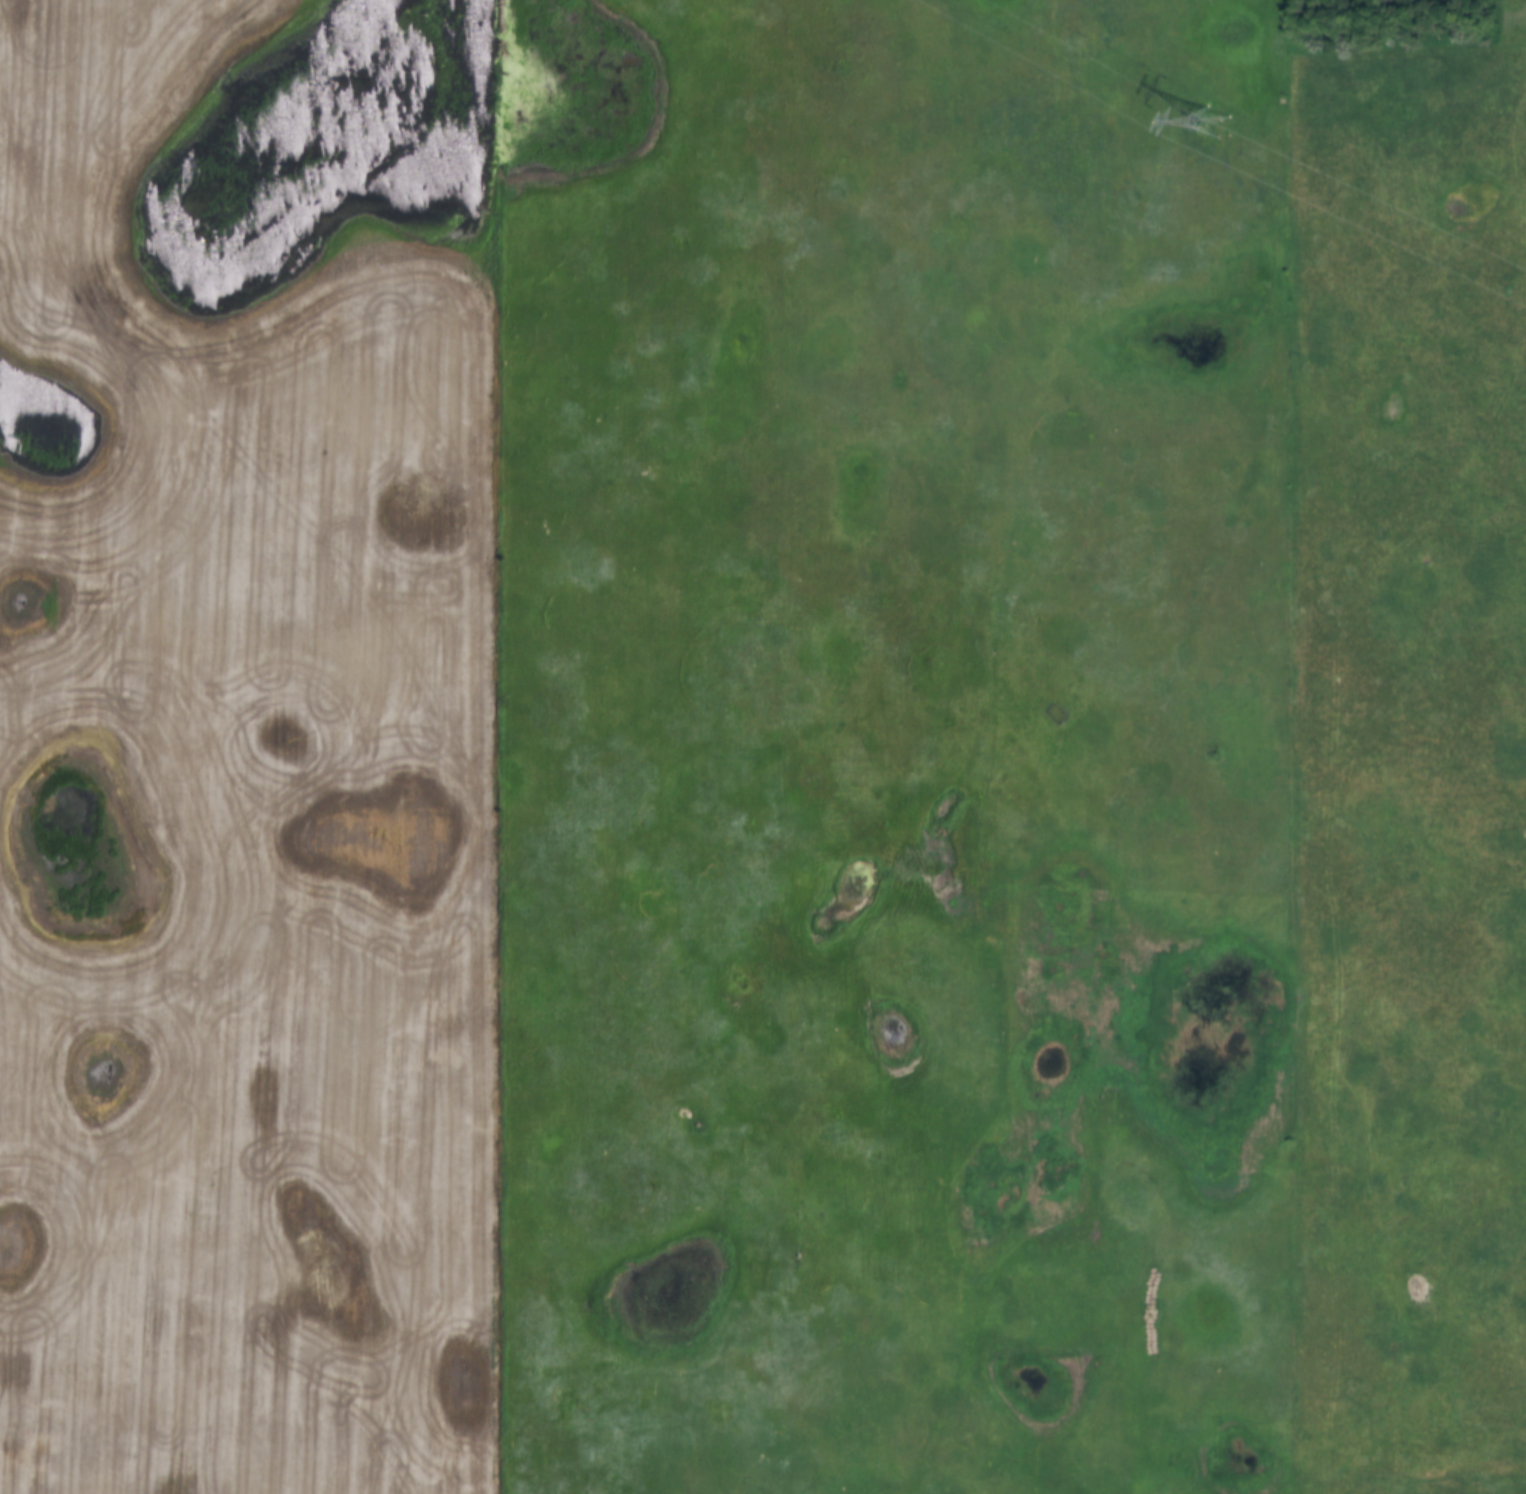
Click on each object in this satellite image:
power tower: (1216, 123)

